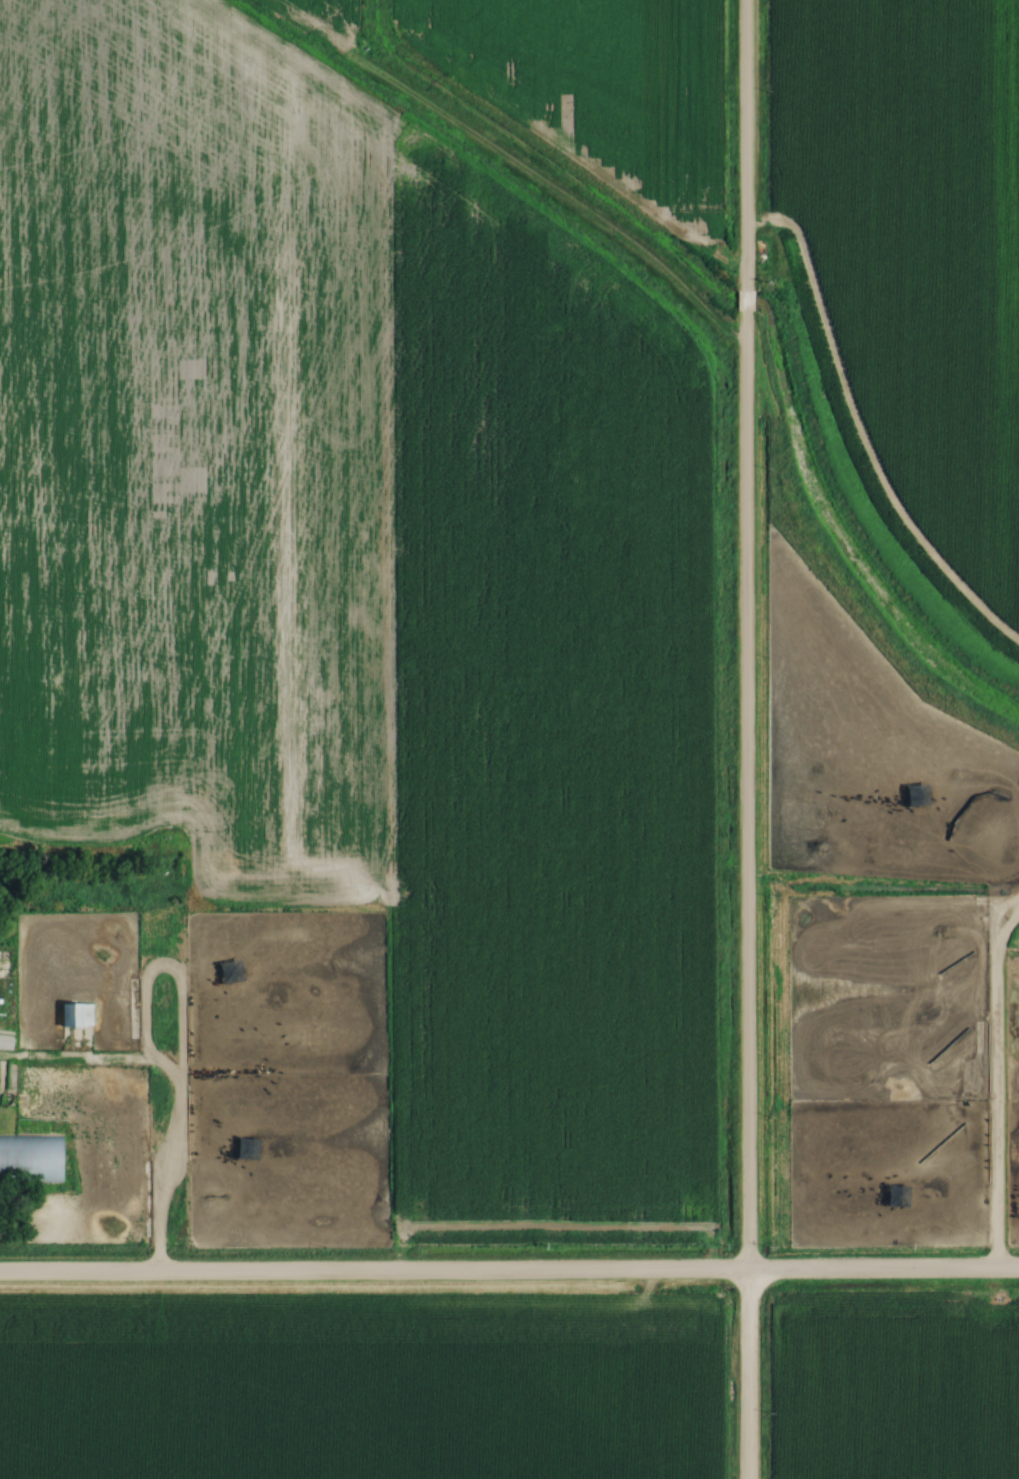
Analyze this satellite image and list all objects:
river: (541, 159)
river: (743, 302)
river: (838, 537)
road: (744, 739)
building: (74, 1016)
road: (173, 1092)
building: (30, 1158)
road: (509, 1276)

